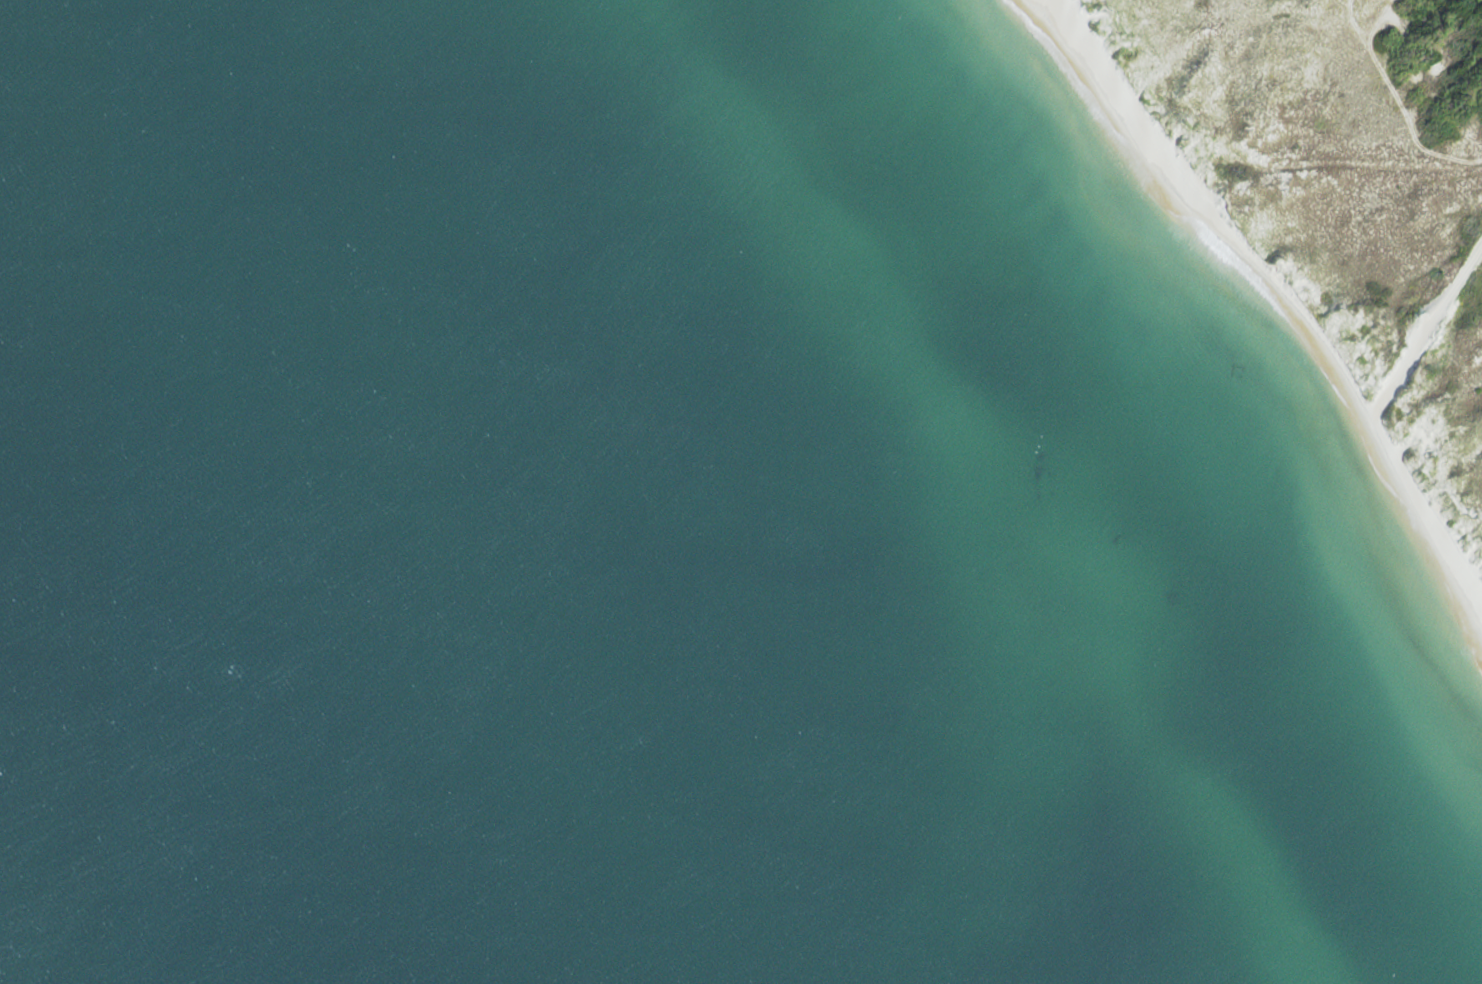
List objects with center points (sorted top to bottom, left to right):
road: (1356, 25)
road: (1396, 101)
road: (1425, 334)

